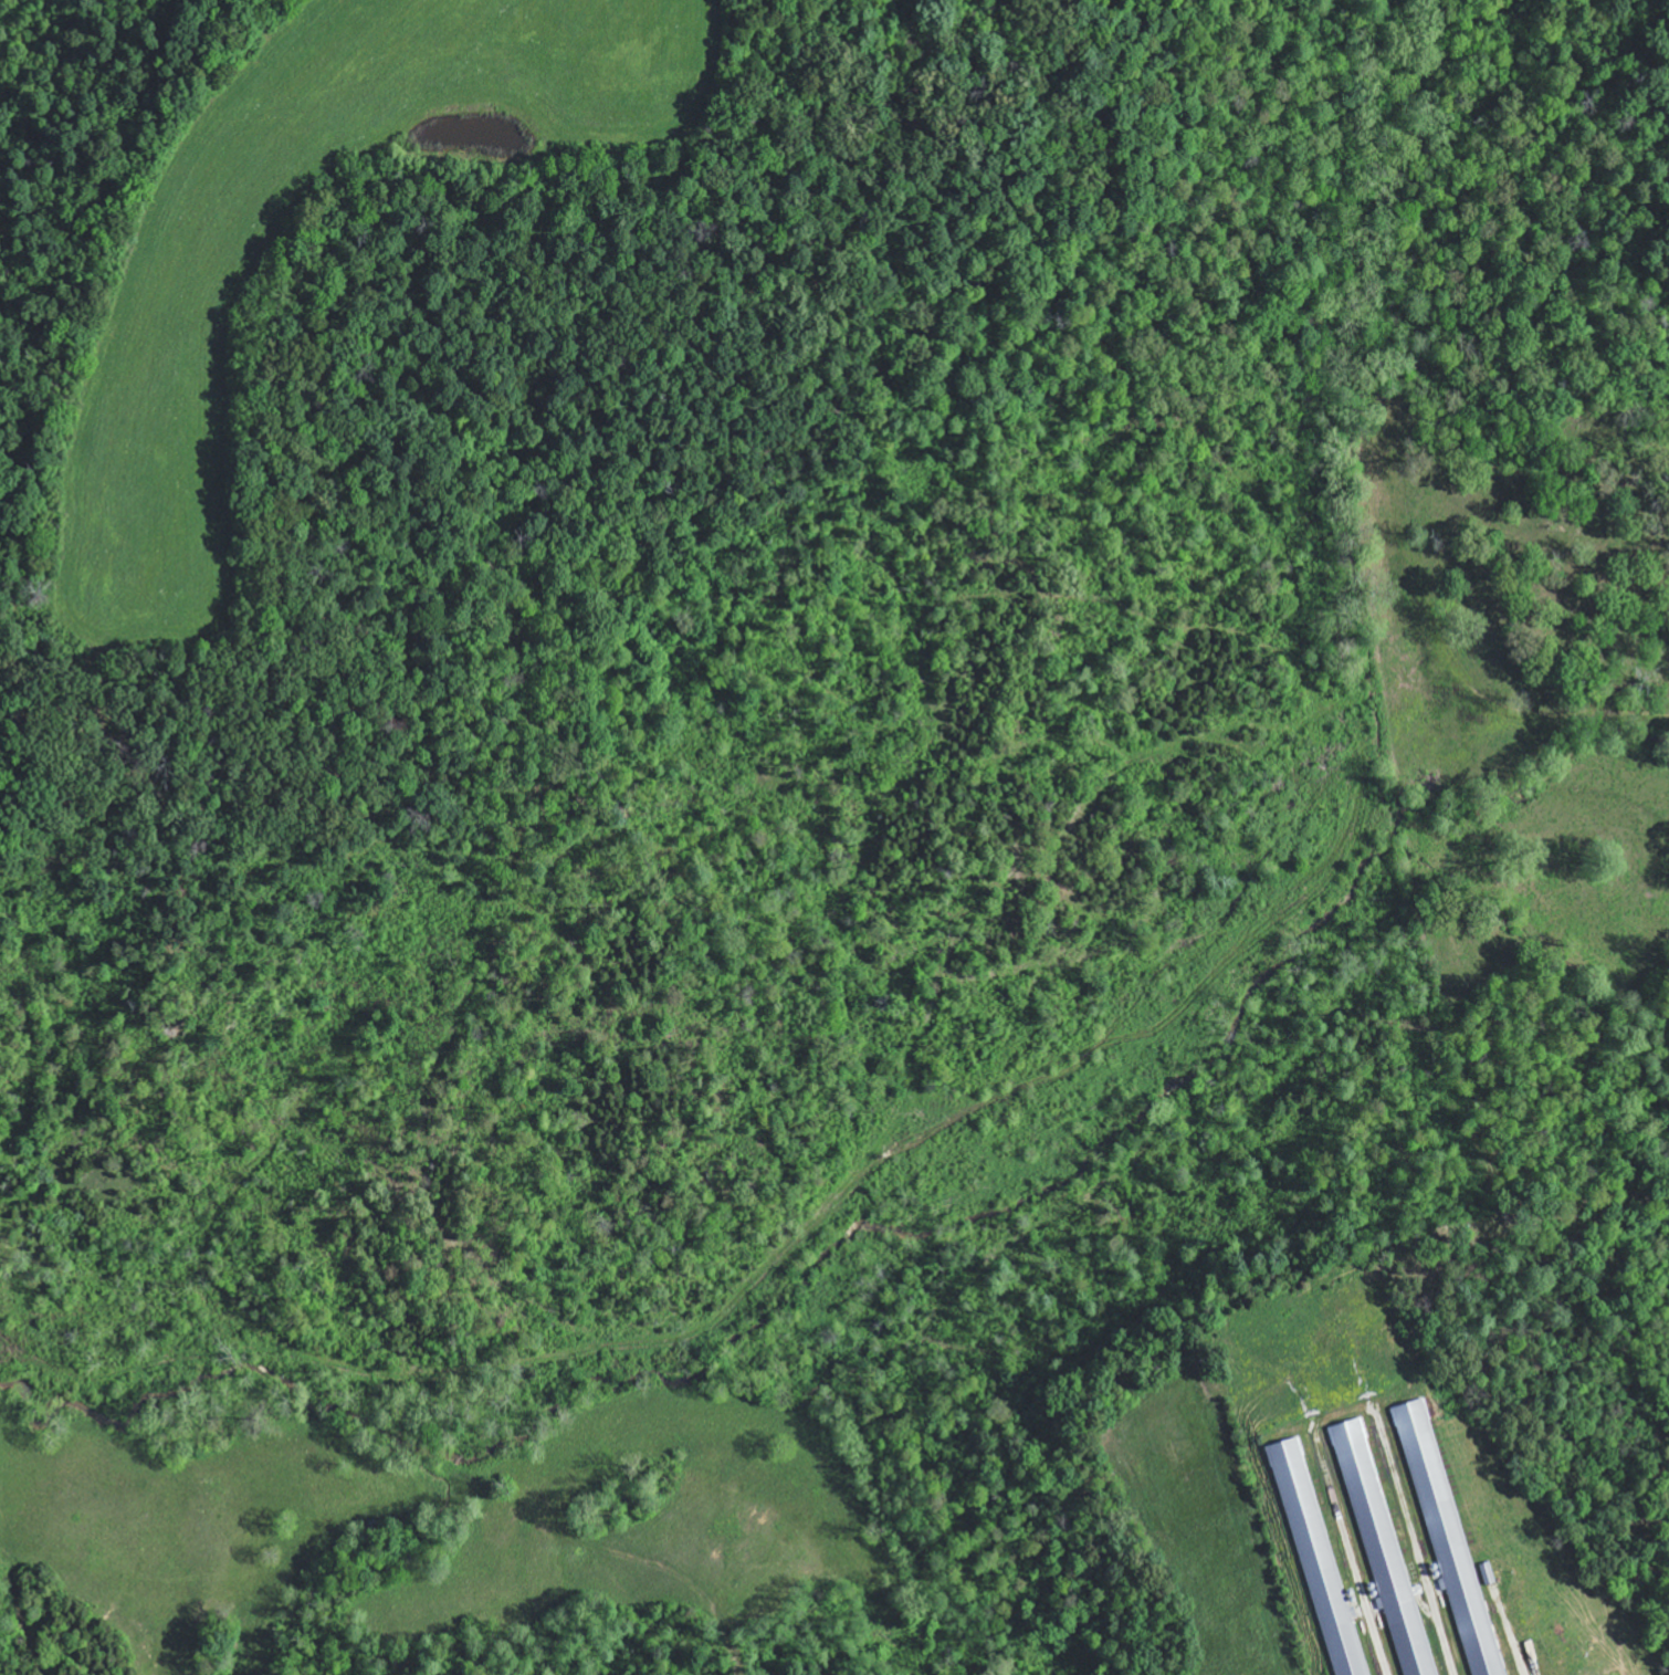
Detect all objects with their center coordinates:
building: (1382, 1548)
building: (1316, 1558)
building: (1471, 1611)

